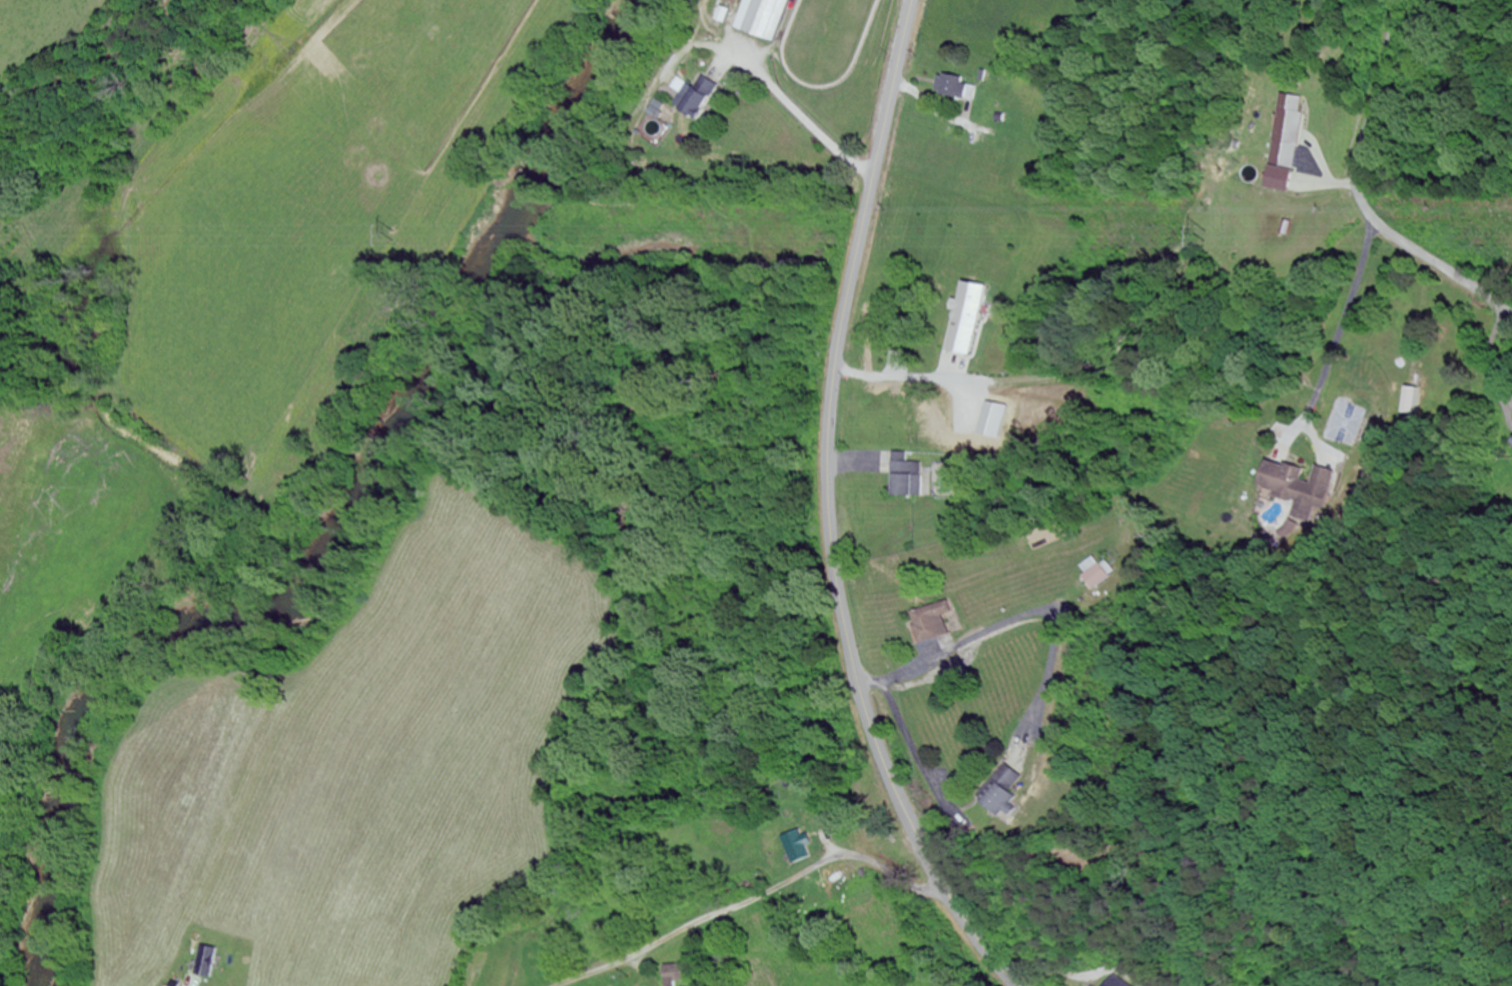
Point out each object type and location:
building: (764, 18)
building: (954, 89)
building: (695, 100)
building: (1282, 143)
road: (1363, 187)
building: (963, 319)
building: (1409, 401)
building: (1510, 444)
building: (905, 479)
building: (1287, 487)
road: (829, 511)
river: (325, 529)
building: (1091, 572)
building: (927, 622)
building: (999, 794)
building: (794, 846)
road: (768, 891)
building: (477, 975)
building: (674, 975)
building: (1112, 982)

